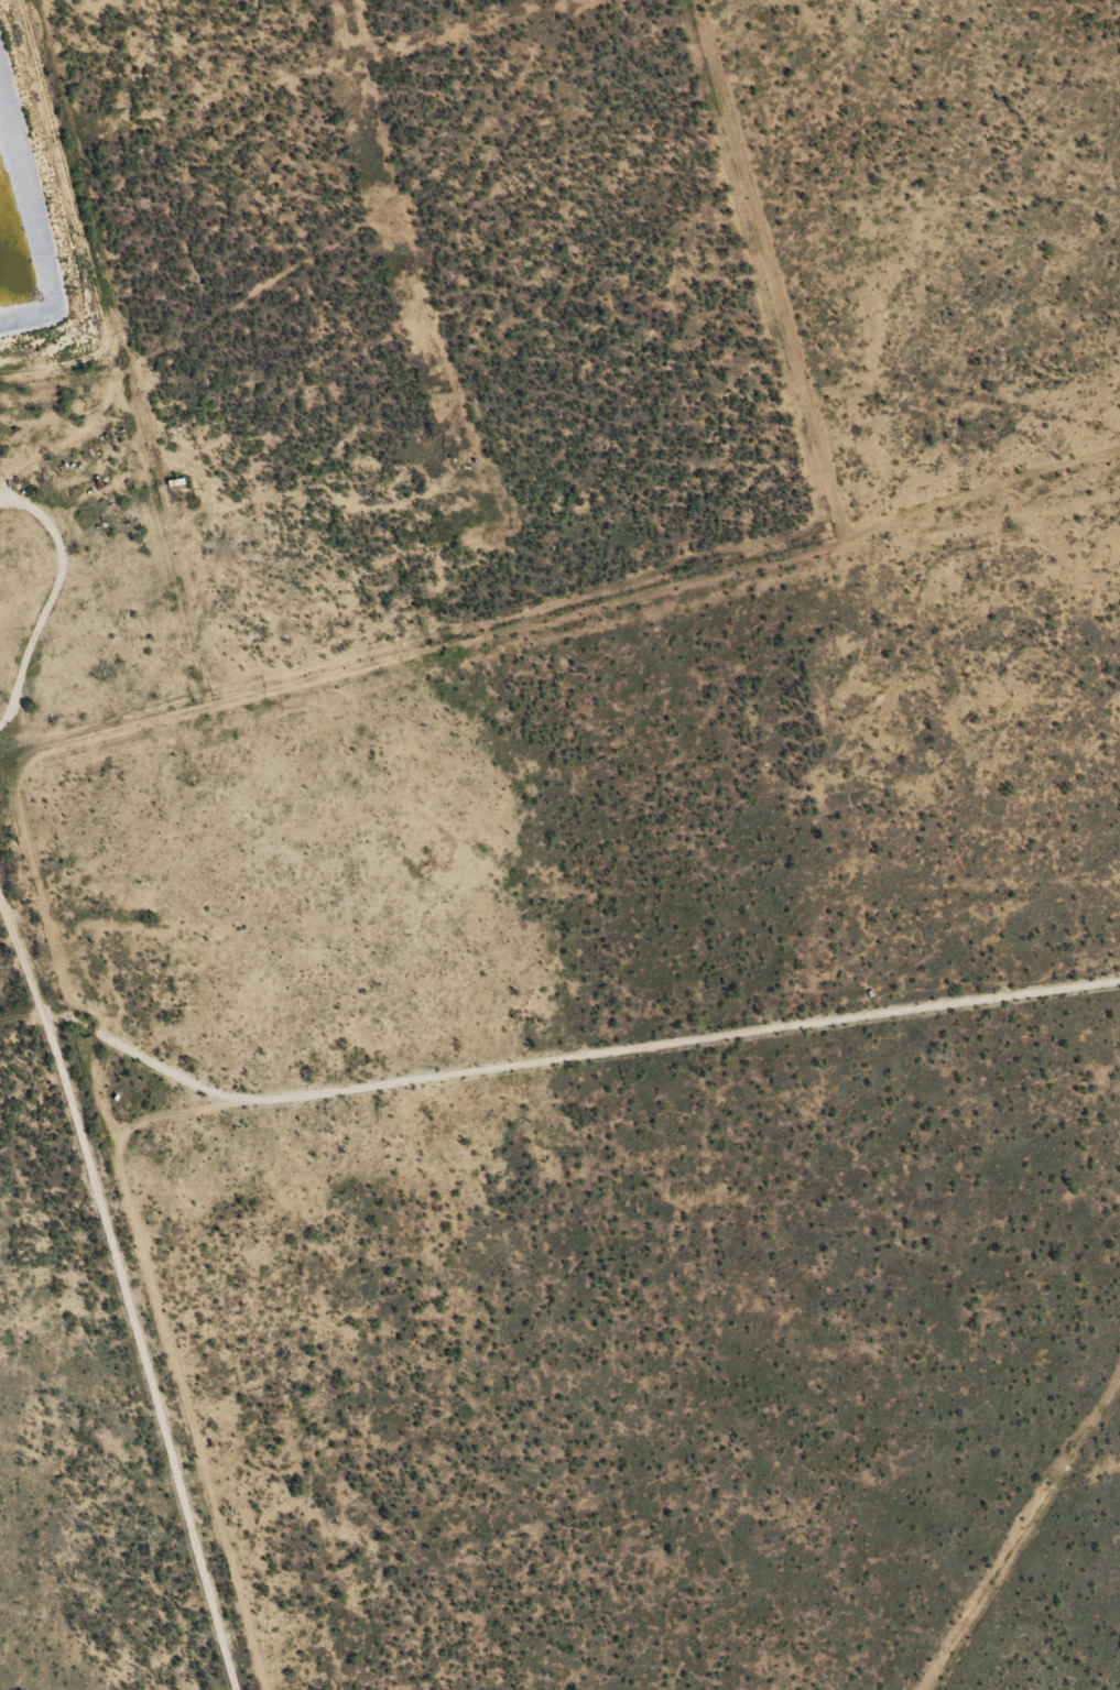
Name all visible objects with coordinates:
road: (7, 905)
road: (196, 1228)

